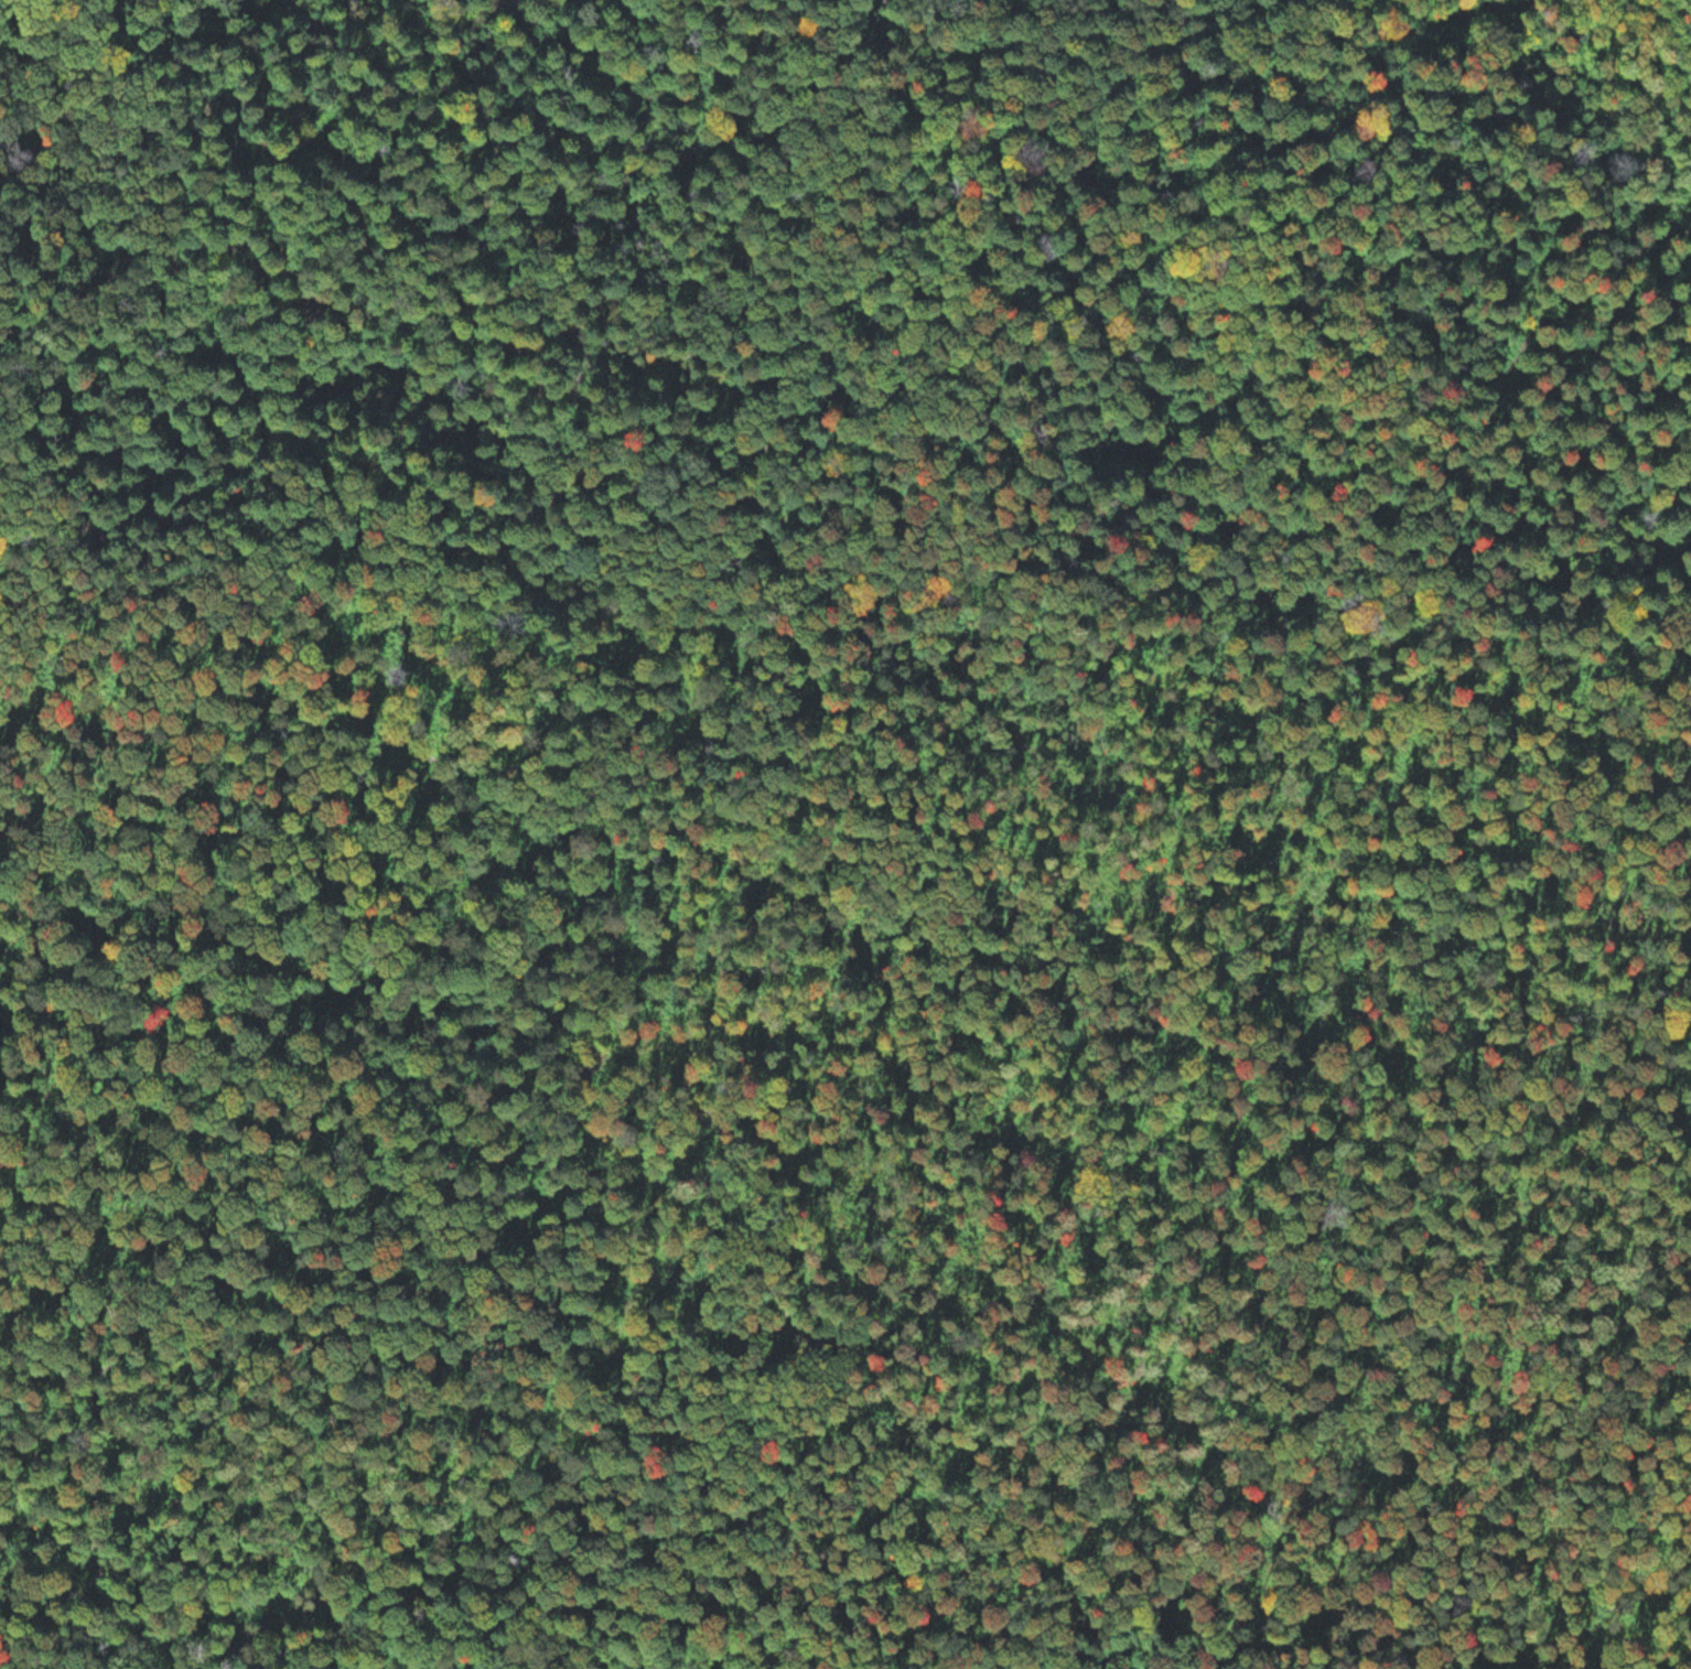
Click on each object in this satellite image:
road: (376, 1564)
road: (212, 1659)

